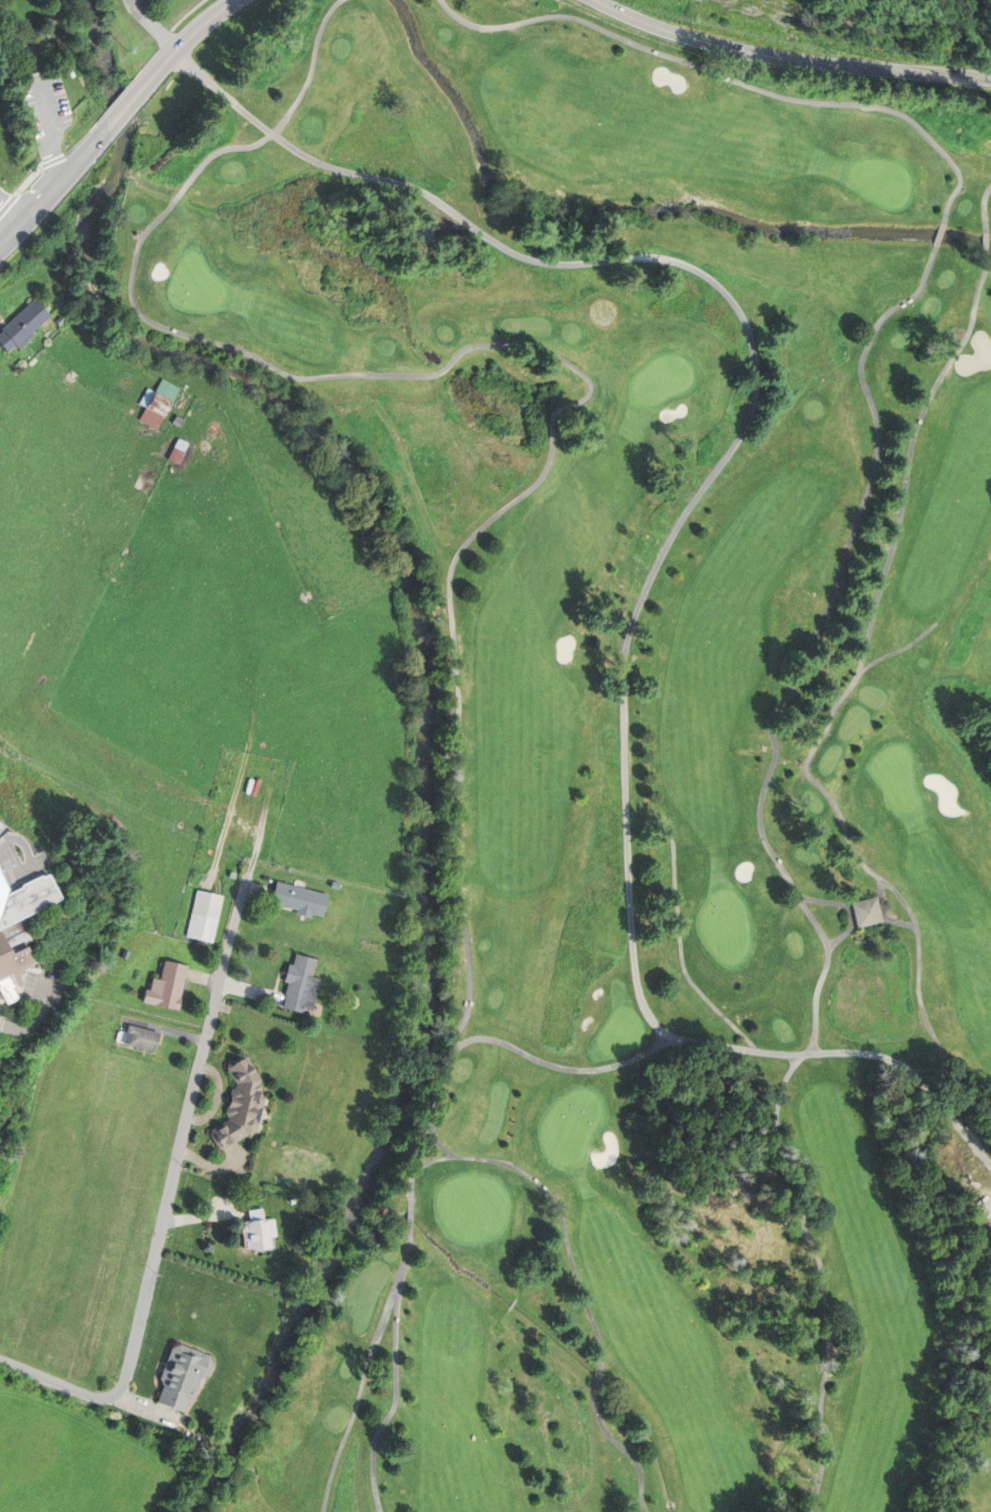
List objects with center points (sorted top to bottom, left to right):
road: (152, 26)
road: (186, 39)
road: (36, 47)
road: (788, 59)
park: (44, 71)
road: (732, 79)
parking lot: (44, 102)
road: (122, 111)
road: (49, 117)
road: (46, 164)
road: (27, 180)
road: (51, 194)
road: (8, 203)
road: (984, 208)
road: (10, 215)
road: (941, 236)
road: (987, 244)
building: (26, 323)
road: (591, 381)
building: (162, 405)
building: (176, 452)
road: (675, 530)
road: (899, 649)
road: (842, 699)
park: (640, 735)
road: (26, 848)
road: (781, 866)
building: (301, 899)
building: (865, 912)
building: (207, 915)
building: (21, 926)
road: (682, 957)
building: (303, 984)
building: (169, 986)
parking lot: (44, 990)
parking lot: (1, 1006)
road: (33, 1018)
building: (143, 1038)
road: (560, 1067)
building: (243, 1104)
road: (439, 1140)
road: (169, 1195)
road: (558, 1206)
building: (381, 1211)
road: (412, 1219)
building: (261, 1234)
road: (366, 1372)
building: (185, 1375)
road: (597, 1377)
road: (396, 1396)
road: (623, 1446)

